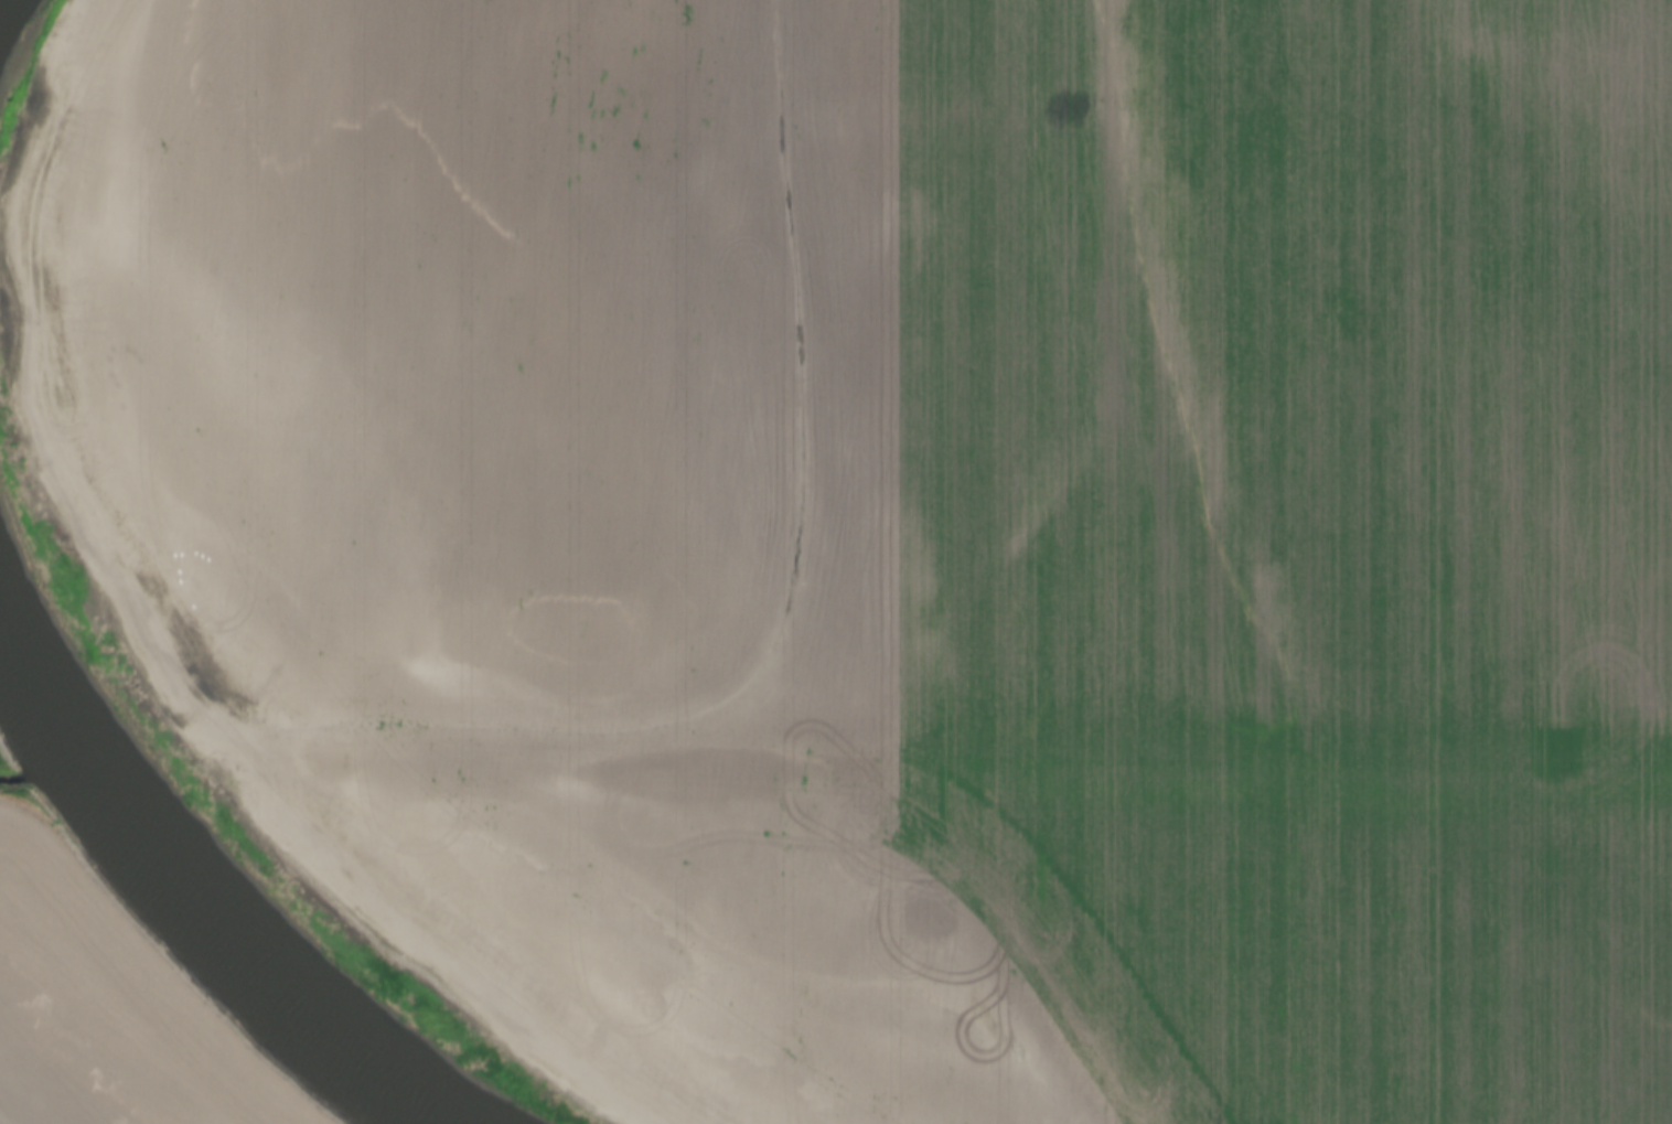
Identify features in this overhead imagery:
river: (201, 891)

